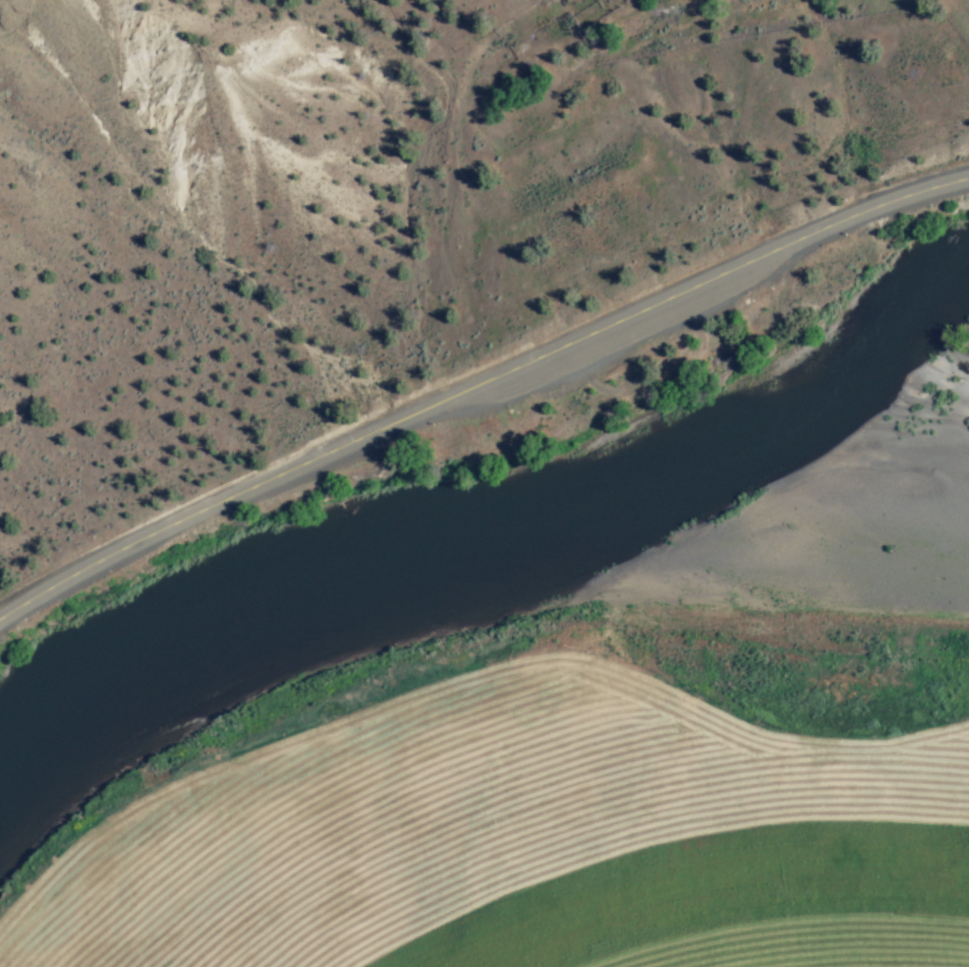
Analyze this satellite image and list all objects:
parking lot: (561, 392)
road: (476, 396)
river: (458, 563)

